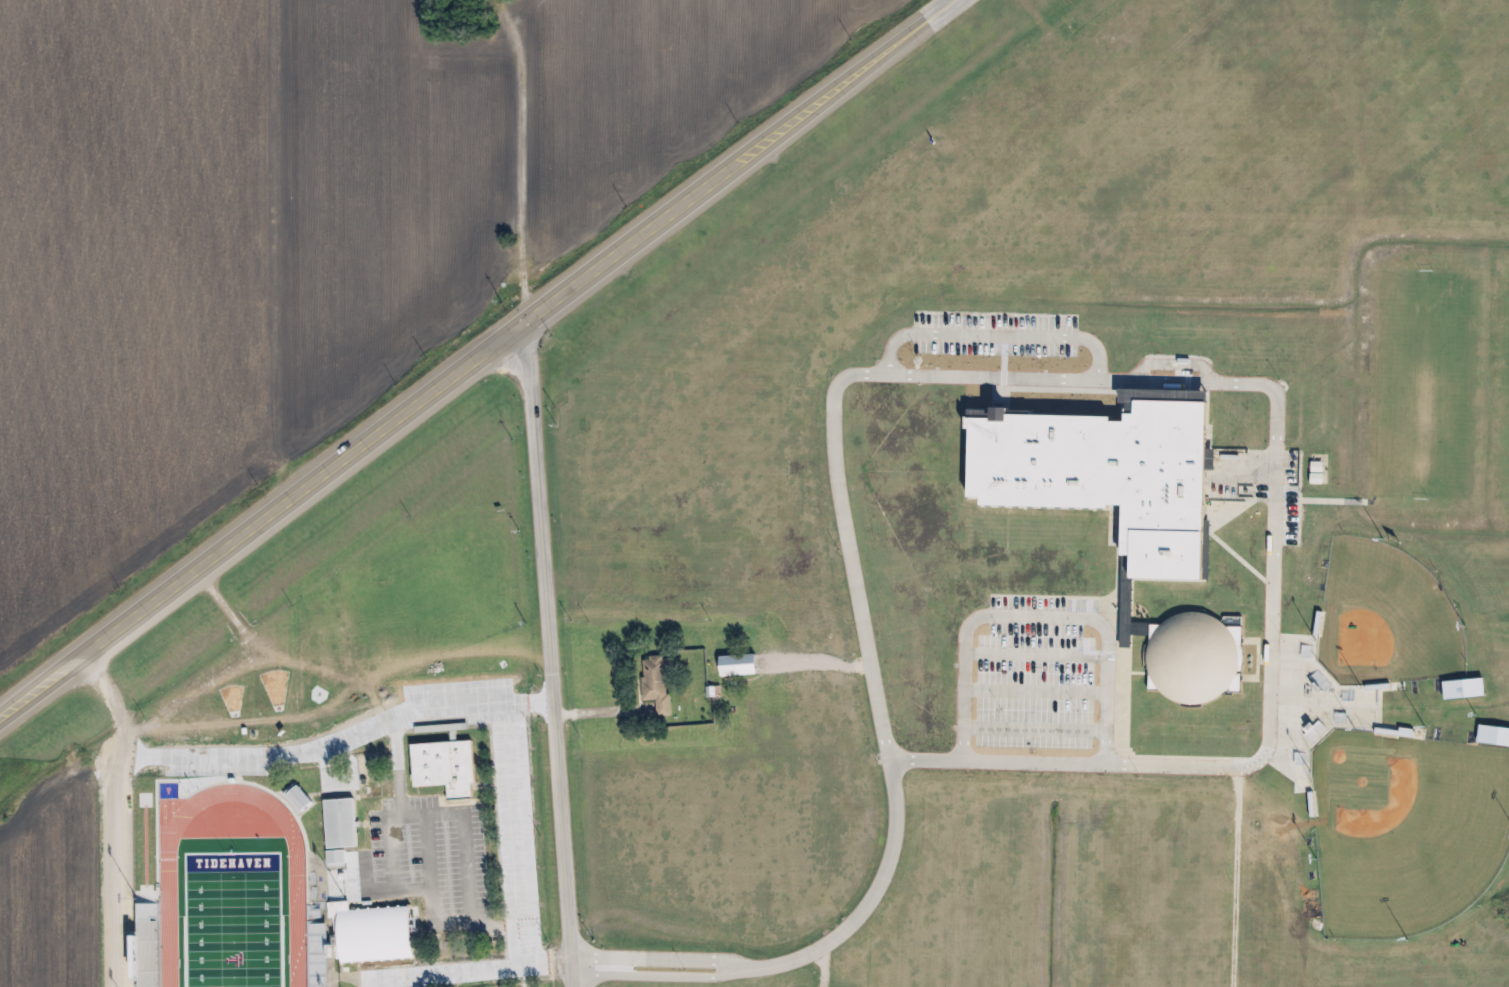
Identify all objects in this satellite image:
road: (472, 361)
building: (1109, 477)
road: (1274, 547)
road: (551, 653)
building: (1194, 658)
building: (740, 666)
building: (659, 685)
building: (1466, 690)
building: (1494, 736)
road: (342, 739)
building: (447, 769)
building: (299, 800)
road: (127, 815)
building: (342, 825)
road: (518, 836)
building: (338, 859)
road: (872, 893)
park: (235, 919)
track: (299, 922)
building: (375, 934)

